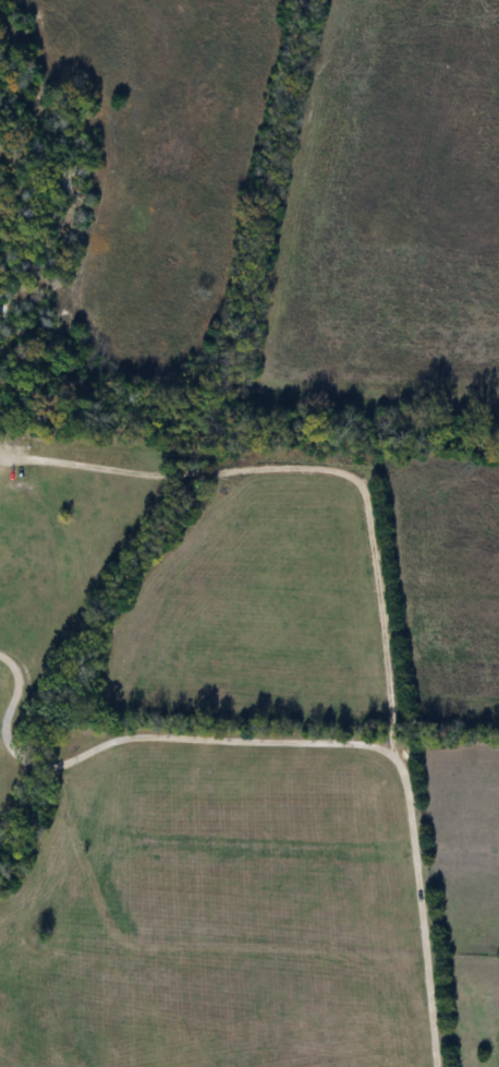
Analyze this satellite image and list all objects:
road: (312, 467)
road: (299, 736)

